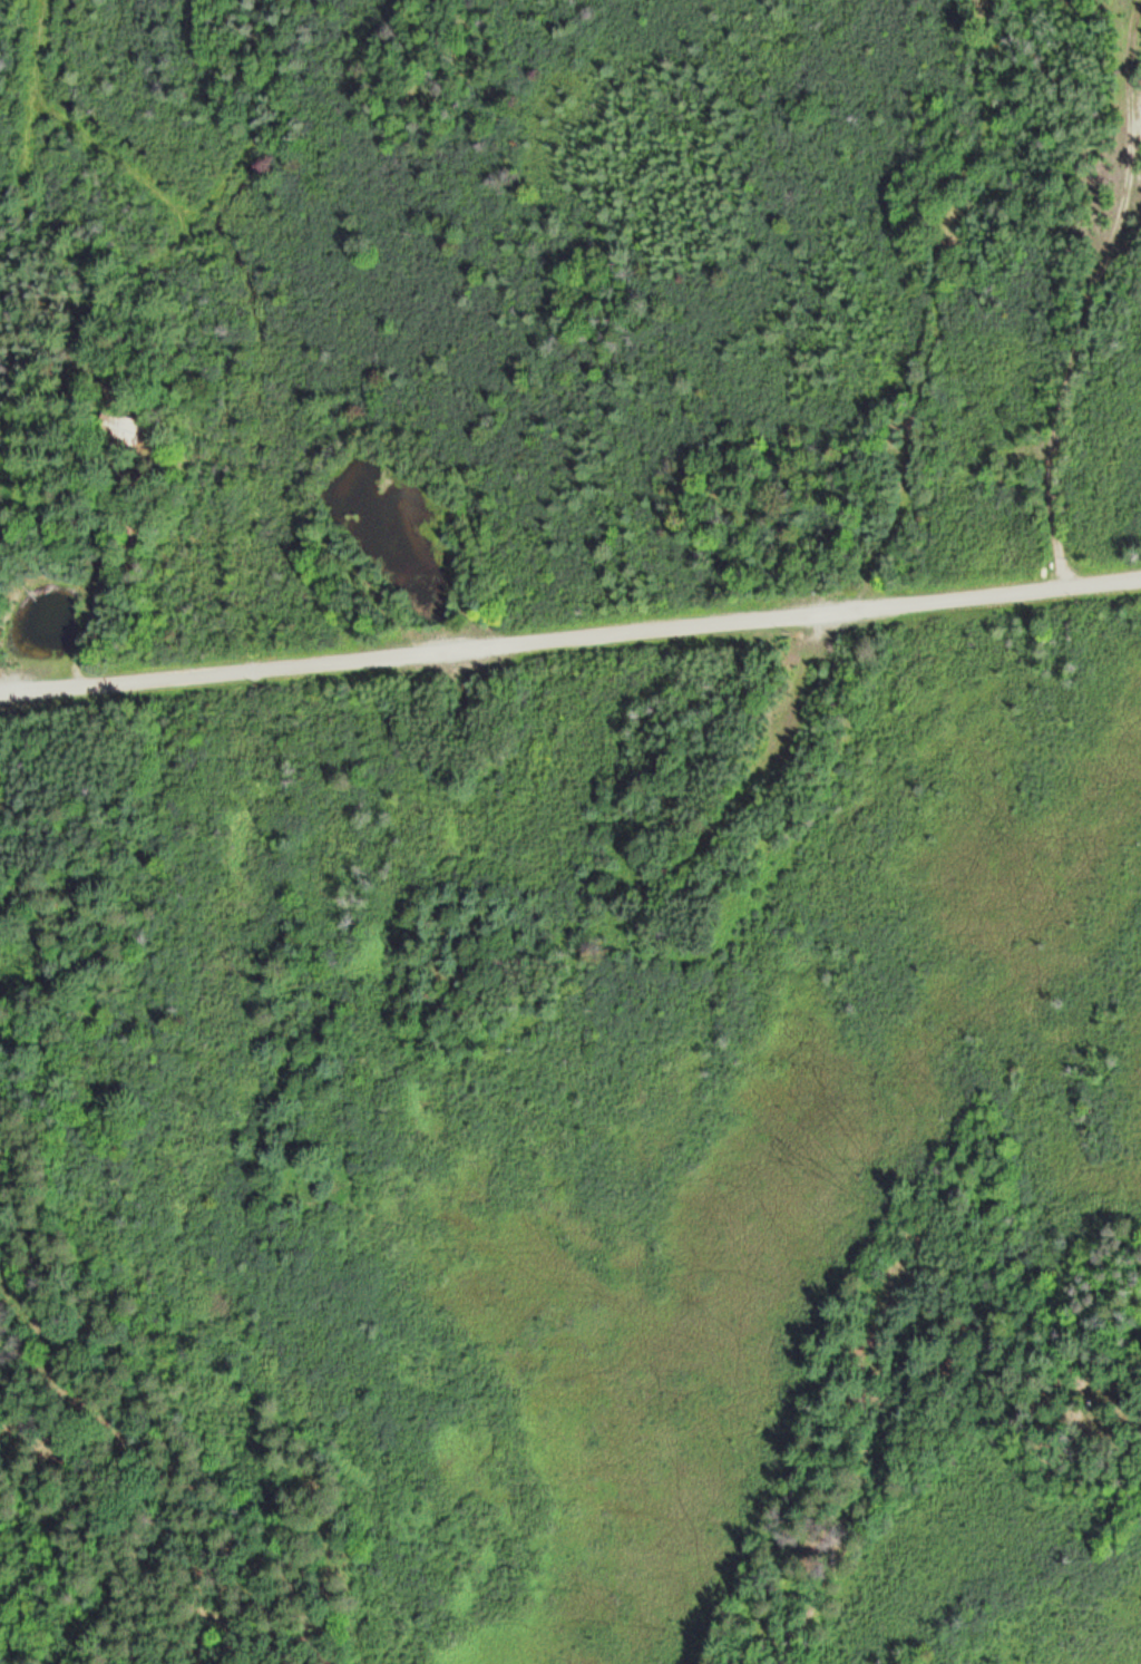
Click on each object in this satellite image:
road: (1088, 292)
building: (120, 426)
road: (97, 587)
road: (570, 638)

